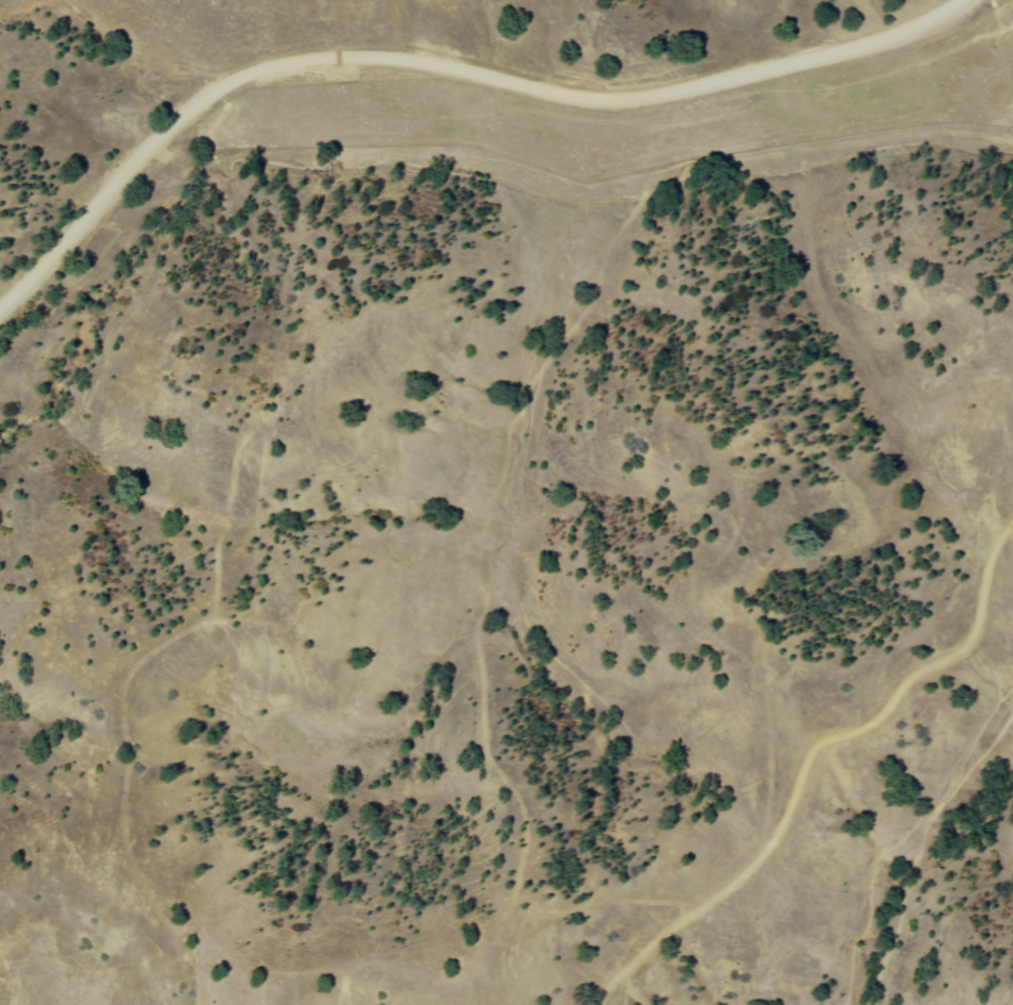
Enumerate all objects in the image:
road: (443, 60)

